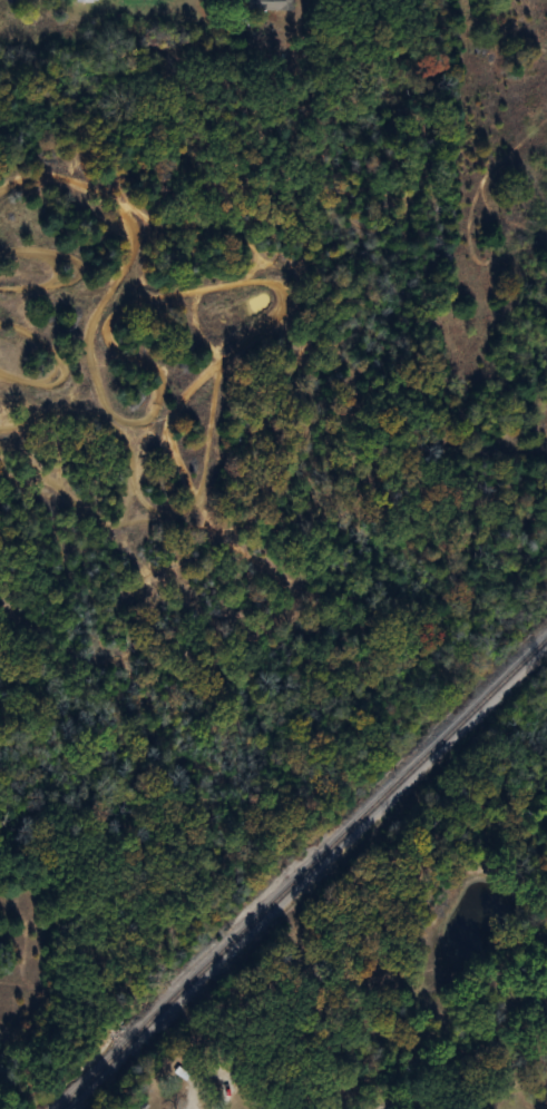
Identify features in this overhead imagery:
building: (85, 0)
building: (270, 4)
railway: (305, 874)
building: (180, 1071)

